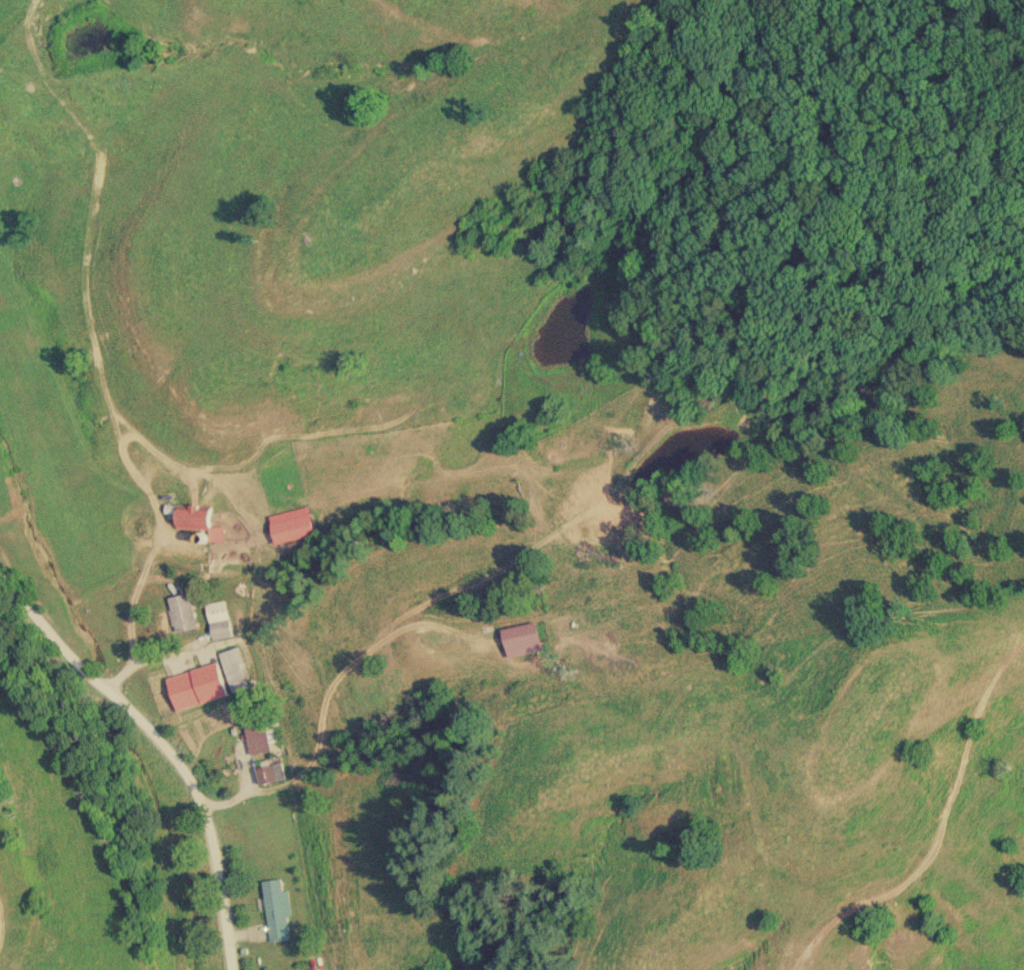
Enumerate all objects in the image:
road: (133, 614)
road: (339, 687)
road: (160, 755)

